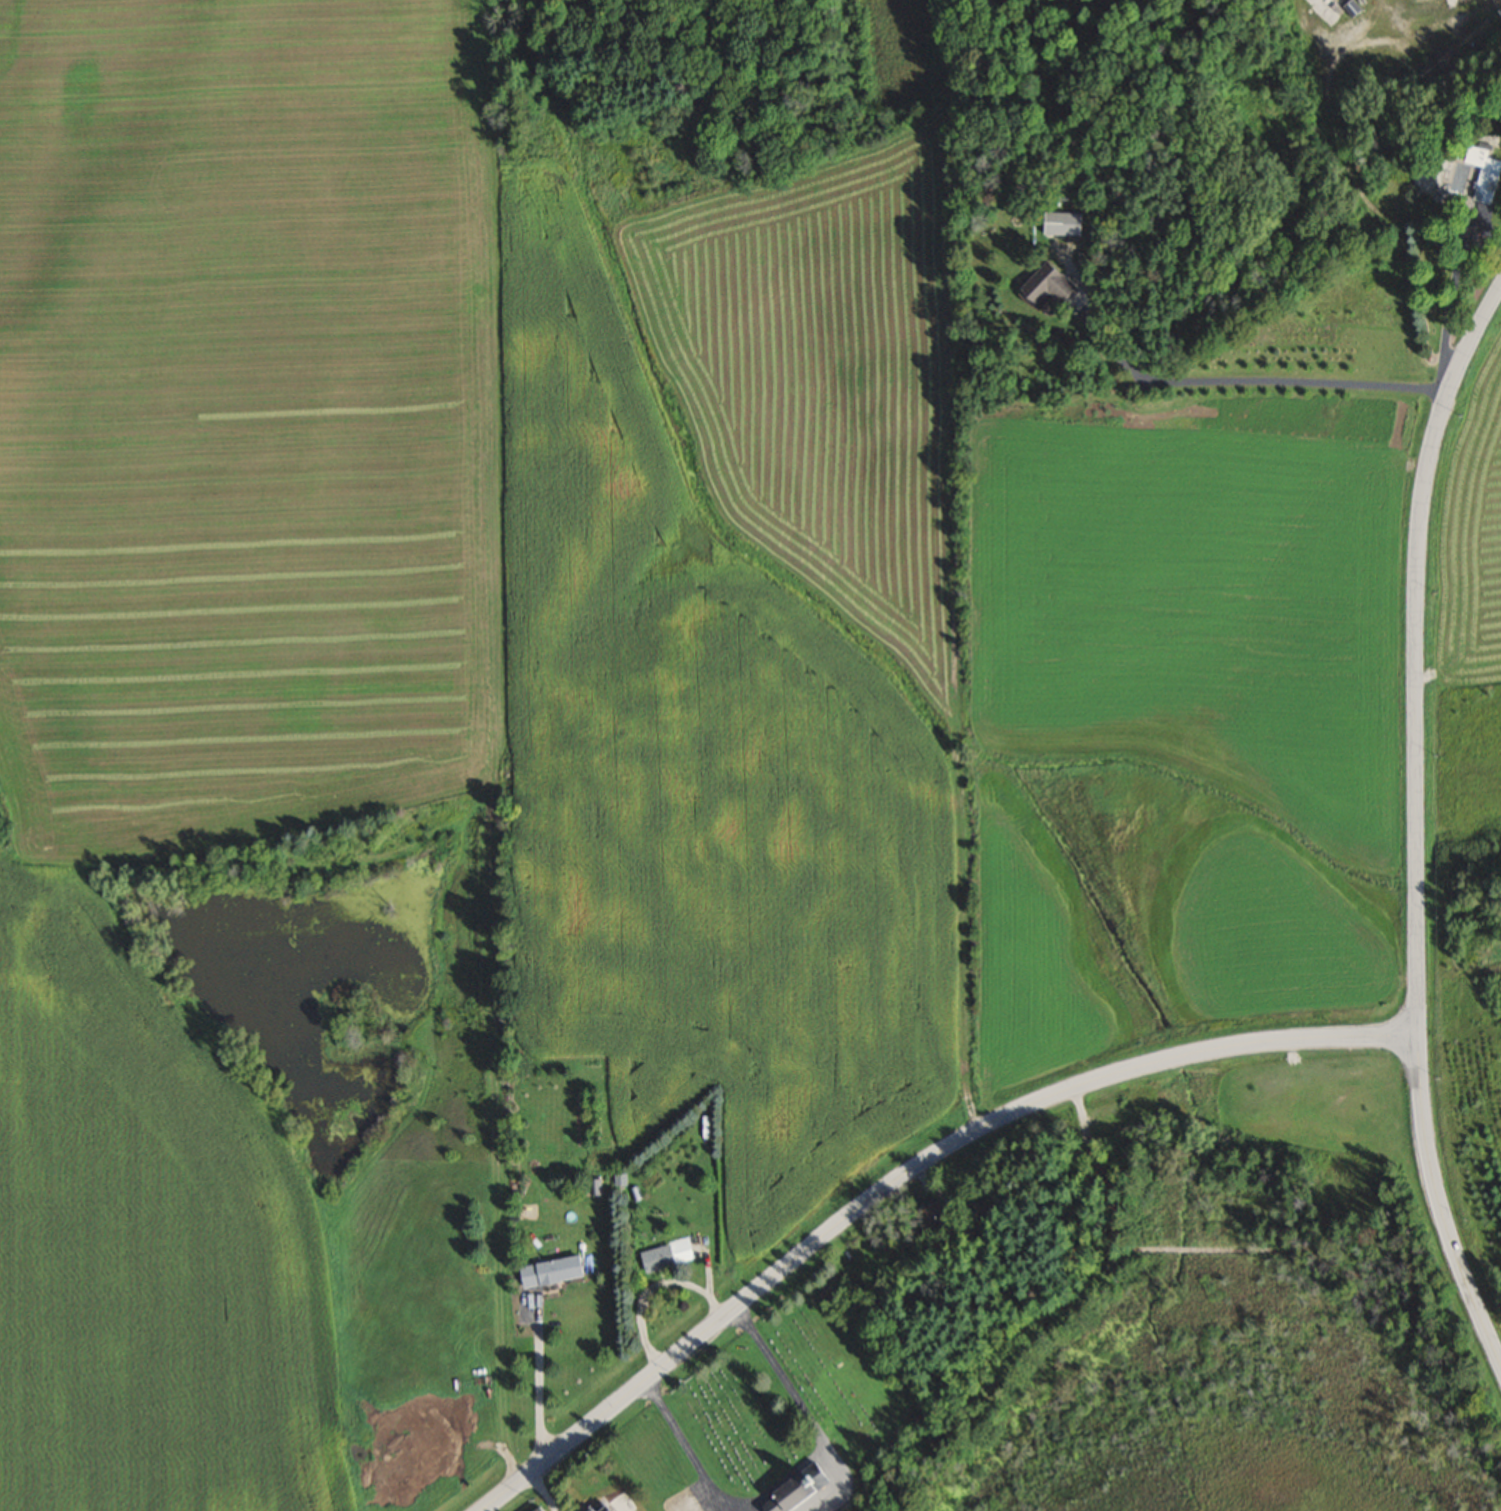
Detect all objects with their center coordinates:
building: (1478, 173)
building: (1060, 223)
building: (1043, 285)
road: (1416, 654)
road: (903, 1174)
building: (593, 1187)
road: (1439, 1206)
building: (936, 1214)
building: (654, 1258)
building: (548, 1270)
building: (790, 1489)
building: (597, 1506)
building: (535, 1508)

